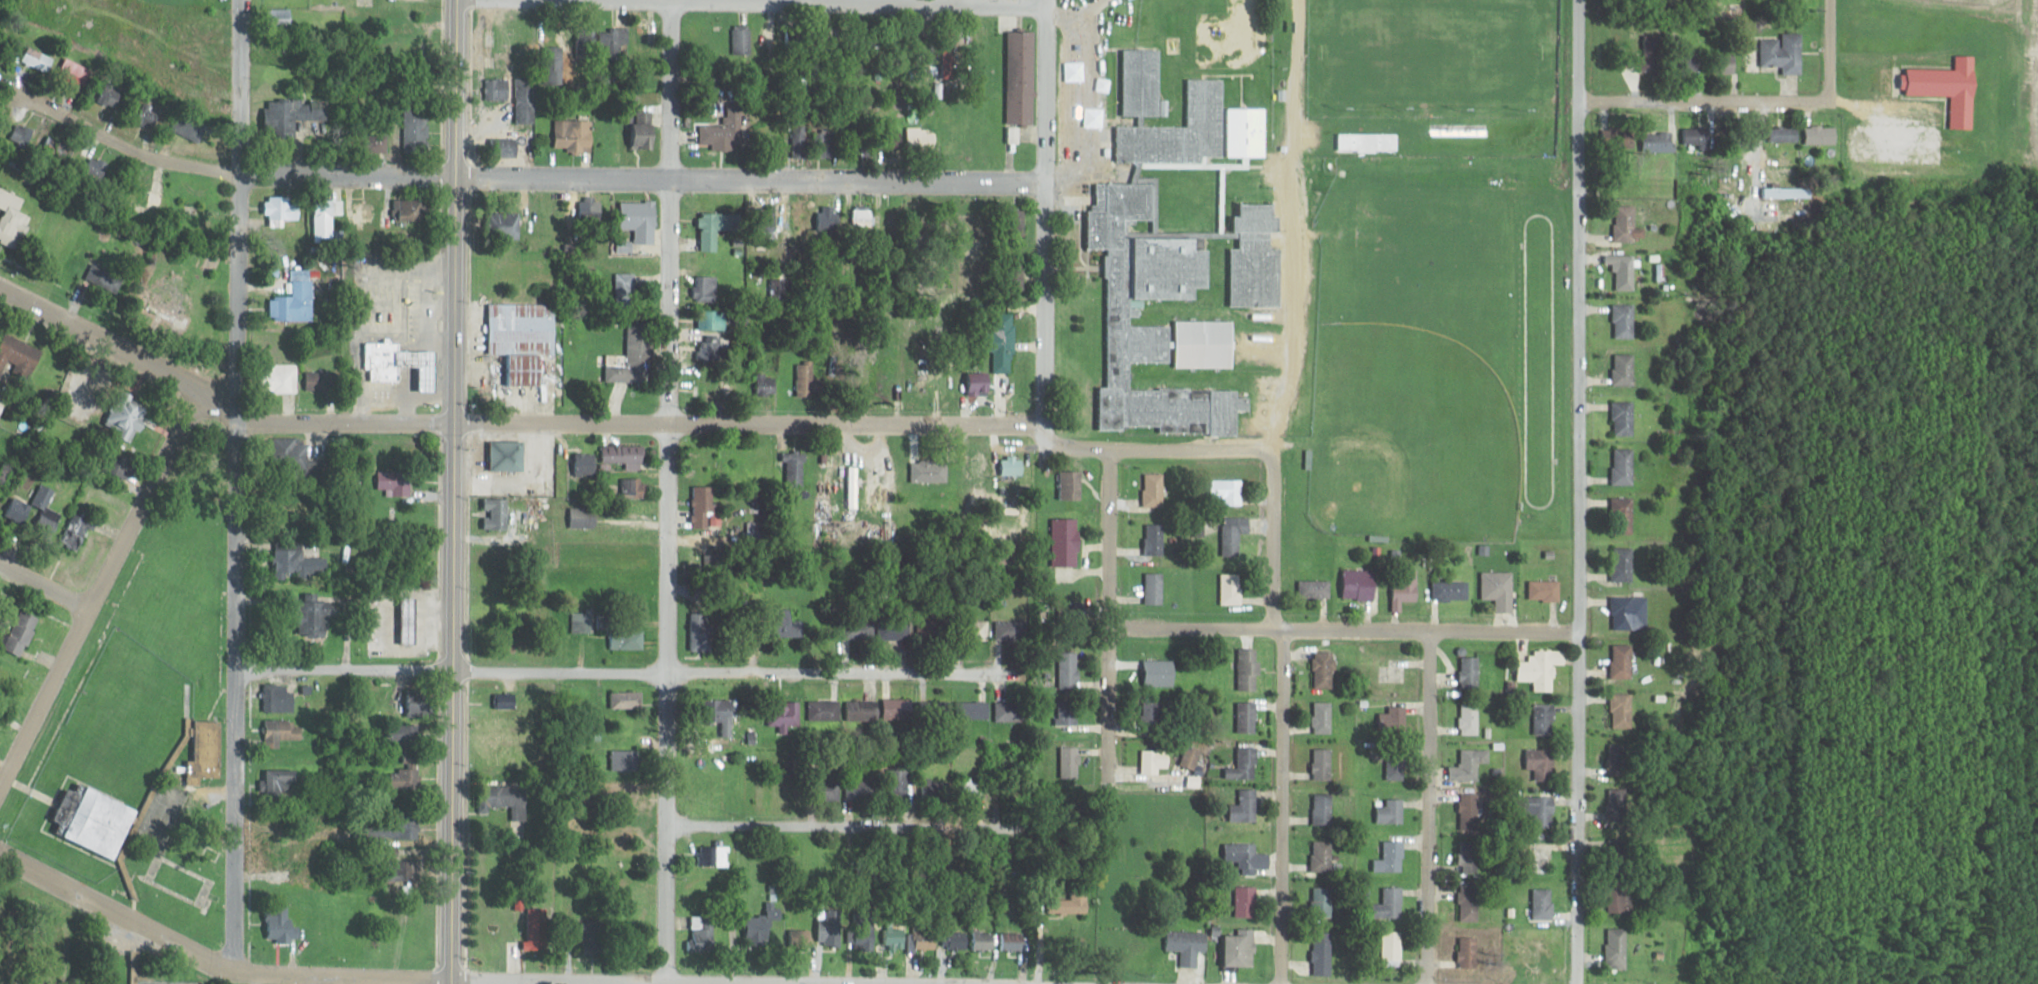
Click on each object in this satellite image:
road: (856, 3)
building: (279, 17)
building: (402, 22)
building: (615, 38)
building: (742, 40)
building: (644, 43)
road: (1826, 48)
park: (1428, 51)
building: (1784, 52)
building: (1653, 53)
building: (37, 59)
building: (1722, 60)
building: (549, 70)
building: (73, 72)
building: (1022, 77)
building: (1142, 82)
building: (1949, 87)
building: (496, 89)
building: (111, 96)
road: (1702, 99)
building: (524, 100)
building: (295, 112)
building: (147, 114)
building: (181, 124)
building: (724, 131)
building: (415, 133)
building: (613, 133)
building: (1786, 133)
building: (1822, 134)
building: (573, 135)
building: (642, 135)
building: (1697, 136)
building: (798, 141)
building: (1662, 141)
building: (377, 142)
building: (824, 142)
building: (1366, 142)
building: (864, 144)
building: (507, 146)
road: (126, 151)
building: (1783, 165)
road: (642, 181)
building: (185, 190)
building: (1788, 192)
building: (147, 199)
building: (591, 209)
building: (406, 210)
road: (1042, 211)
building: (366, 213)
building: (801, 214)
building: (326, 216)
building: (827, 217)
building: (12, 219)
building: (646, 221)
building: (1627, 225)
building: (503, 226)
building: (717, 228)
building: (1257, 259)
building: (1625, 272)
building: (1166, 275)
building: (625, 289)
building: (706, 289)
building: (172, 294)
building: (294, 304)
road: (1286, 313)
building: (717, 321)
building: (1625, 321)
building: (522, 339)
building: (1004, 342)
building: (710, 347)
building: (19, 358)
building: (632, 358)
building: (381, 362)
building: (1624, 370)
building: (281, 379)
building: (808, 380)
building: (979, 381)
building: (320, 382)
building: (129, 418)
building: (1624, 418)
road: (505, 426)
road: (1150, 448)
building: (623, 455)
building: (507, 456)
building: (585, 464)
building: (1623, 466)
building: (125, 467)
building: (794, 469)
building: (982, 469)
building: (394, 483)
road: (240, 484)
building: (1072, 485)
building: (852, 487)
building: (634, 488)
building: (1154, 489)
road: (452, 490)
building: (1229, 491)
road: (1578, 491)
road: (667, 492)
building: (43, 496)
building: (705, 508)
building: (497, 514)
building: (1623, 516)
building: (582, 517)
building: (76, 531)
building: (1233, 533)
road: (1273, 537)
building: (1155, 539)
building: (1067, 541)
building: (298, 564)
building: (1623, 564)
building: (1360, 584)
road: (43, 585)
building: (1407, 585)
road: (97, 587)
building: (1154, 588)
building: (1231, 589)
building: (1313, 589)
building: (1499, 589)
building: (1450, 590)
building: (1545, 590)
building: (1630, 613)
building: (1071, 616)
building: (314, 617)
road: (1110, 617)
building: (410, 620)
building: (582, 621)
building: (788, 623)
building: (981, 629)
road: (1343, 629)
building: (1010, 630)
building: (701, 631)
building: (21, 633)
building: (936, 633)
building: (626, 639)
building: (1623, 661)
building: (1542, 668)
building: (1324, 669)
building: (1068, 670)
building: (1248, 670)
road: (626, 671)
building: (1152, 671)
building: (1394, 671)
building: (1470, 672)
building: (276, 698)
building: (626, 700)
building: (419, 702)
building: (898, 709)
building: (976, 709)
building: (861, 710)
building: (933, 710)
building: (825, 711)
building: (1012, 711)
building: (1622, 711)
building: (1066, 712)
building: (784, 714)
building: (724, 715)
building: (1151, 716)
building: (1245, 716)
building: (1322, 717)
building: (1470, 719)
building: (1545, 719)
building: (1391, 720)
building: (284, 730)
building: (403, 735)
building: (206, 753)
building: (1190, 757)
building: (1154, 760)
building: (1618, 760)
building: (626, 761)
building: (1069, 762)
building: (1244, 764)
building: (1322, 764)
building: (1542, 764)
building: (1470, 765)
building: (1395, 766)
building: (406, 778)
building: (279, 784)
building: (899, 784)
building: (936, 788)
building: (861, 790)
building: (506, 801)
road: (1283, 806)
building: (1245, 807)
road: (1426, 807)
building: (1618, 807)
building: (1323, 809)
building: (1390, 811)
building: (1470, 812)
building: (1542, 812)
building: (94, 821)
road: (735, 825)
building: (1239, 855)
building: (1322, 855)
building: (714, 856)
building: (1469, 857)
building: (1391, 858)
building: (284, 861)
building: (1621, 897)
building: (1323, 900)
building: (1245, 902)
building: (1391, 902)
building: (1470, 903)
building: (1069, 904)
building: (1543, 904)
road: (113, 915)
building: (281, 924)
building: (760, 925)
building: (536, 929)
building: (830, 930)
building: (703, 933)
building: (802, 935)
building: (895, 936)
building: (596, 937)
building: (924, 937)
building: (956, 940)
building: (867, 941)
building: (984, 941)
building: (1012, 941)
building: (1187, 946)
building: (1617, 946)
building: (1392, 948)
building: (1239, 951)
building: (1322, 953)
building: (1468, 953)
road: (432, 980)
road: (446, 982)

